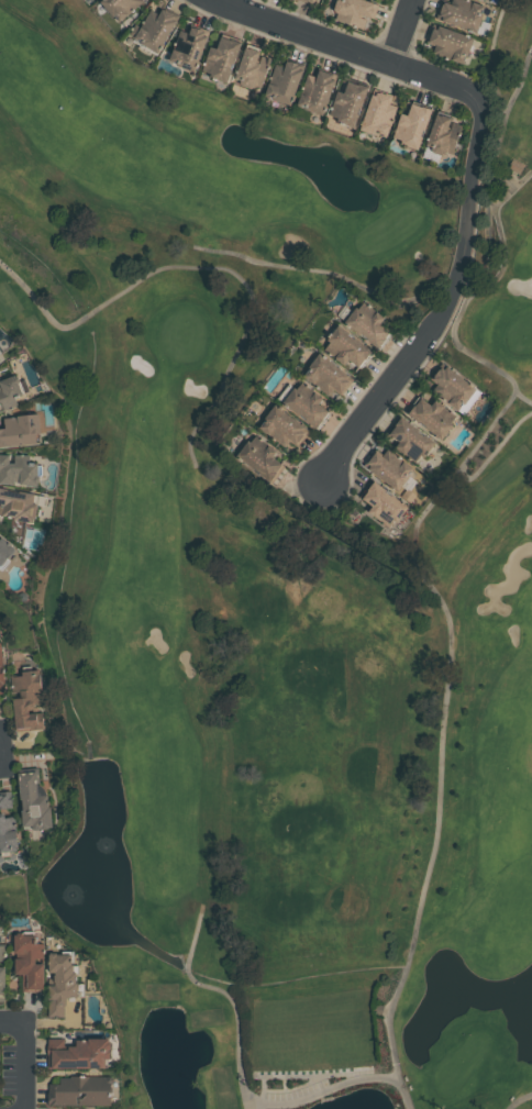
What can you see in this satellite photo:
building: (314, 0)
building: (486, 0)
building: (308, 1)
building: (120, 8)
building: (354, 11)
building: (461, 14)
building: (154, 27)
road: (402, 33)
building: (450, 44)
building: (188, 47)
building: (221, 58)
building: (252, 68)
building: (284, 80)
building: (317, 91)
building: (346, 103)
building: (378, 113)
building: (411, 125)
building: (441, 133)
road: (475, 176)
building: (367, 325)
building: (345, 346)
building: (326, 375)
building: (453, 389)
building: (9, 392)
building: (306, 407)
building: (431, 415)
building: (281, 426)
building: (20, 430)
building: (409, 440)
building: (259, 457)
building: (389, 467)
building: (16, 469)
building: (18, 504)
building: (384, 504)
building: (4, 551)
park: (284, 576)
building: (1, 681)
building: (27, 699)
road: (2, 745)
road: (1, 761)
building: (32, 802)
building: (7, 825)
building: (27, 963)
building: (2, 972)
building: (59, 983)
road: (15, 1020)
building: (77, 1054)
road: (30, 1065)
road: (245, 1087)
building: (79, 1091)
road: (519, 1099)

